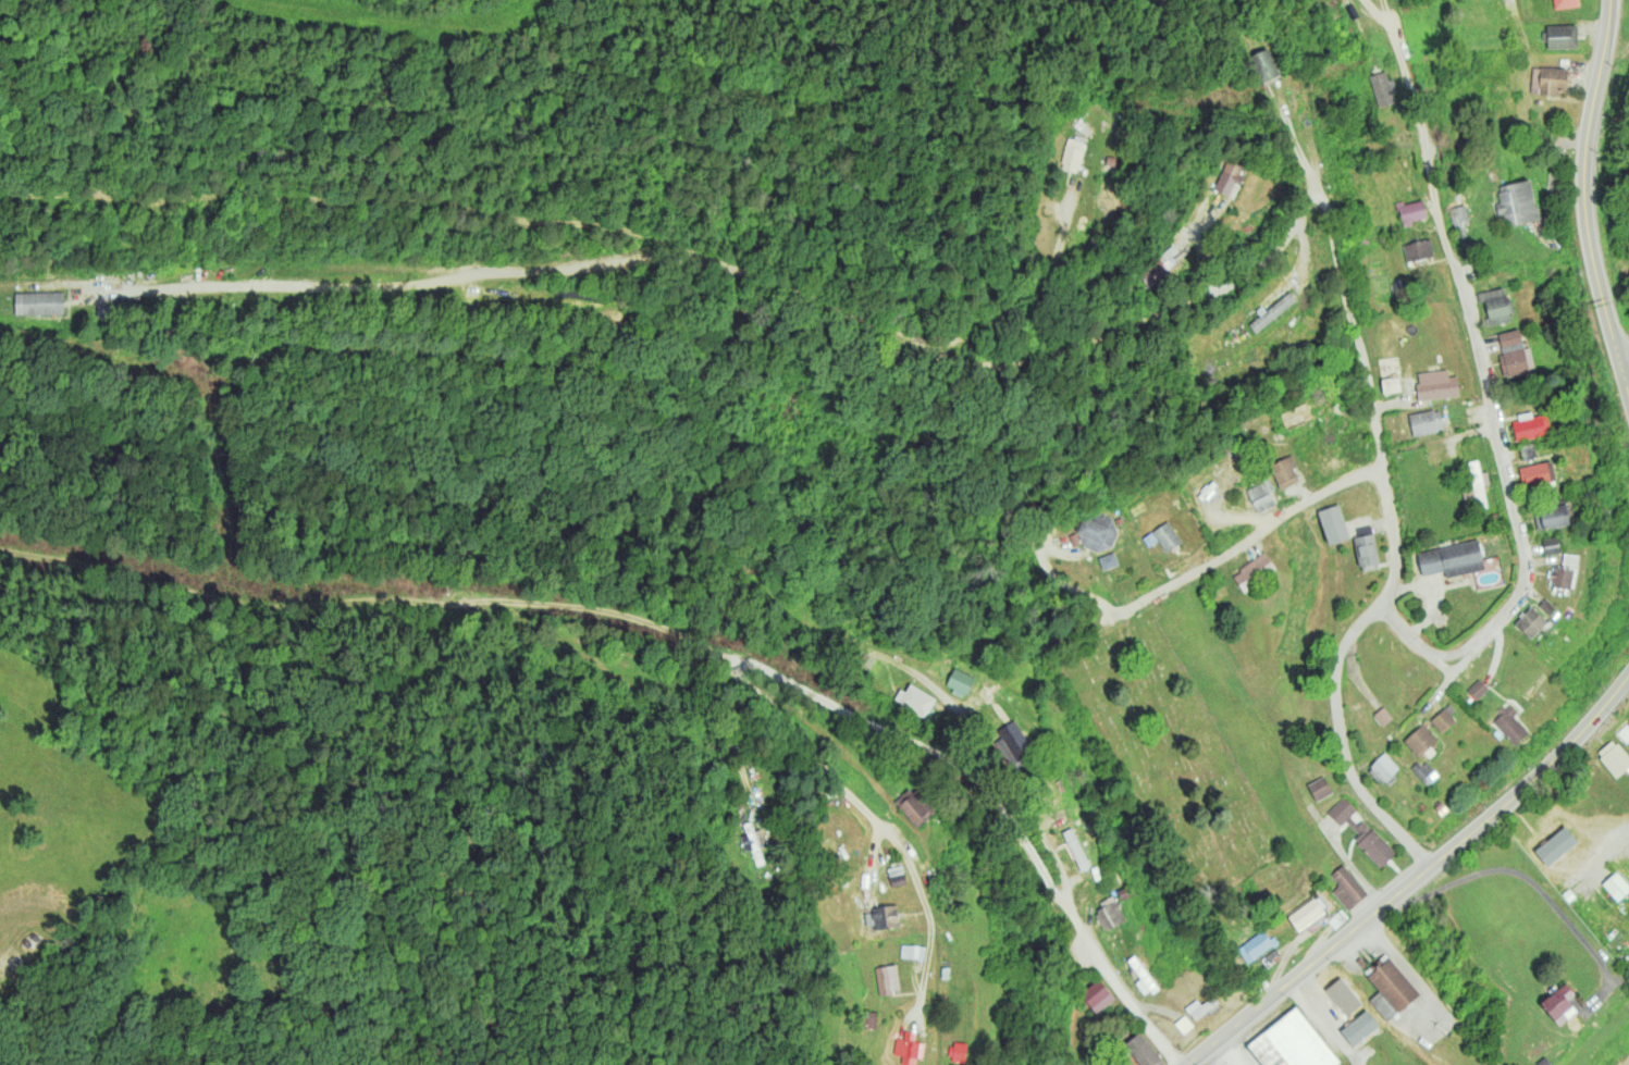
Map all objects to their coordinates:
building: (1564, 3)
road: (1382, 17)
building: (1560, 36)
building: (1263, 64)
building: (1548, 79)
building: (1382, 88)
building: (1072, 154)
building: (1230, 177)
road: (1589, 190)
building: (1516, 202)
building: (1410, 210)
building: (1459, 220)
building: (1417, 250)
road: (1047, 262)
building: (1158, 267)
building: (38, 302)
building: (1495, 305)
road: (991, 310)
building: (1272, 311)
building: (1514, 354)
road: (1627, 362)
building: (1390, 384)
building: (1435, 384)
road: (1491, 398)
building: (1424, 421)
building: (1530, 425)
building: (1527, 450)
building: (1284, 471)
building: (1537, 473)
building: (1476, 486)
building: (1259, 496)
road: (1389, 509)
building: (1554, 515)
building: (1332, 523)
building: (1097, 530)
building: (1162, 536)
road: (1244, 545)
building: (1550, 545)
building: (1366, 547)
building: (1451, 558)
building: (1108, 560)
building: (1252, 570)
building: (1560, 577)
road: (539, 606)
building: (1546, 606)
building: (1530, 621)
building: (865, 661)
building: (959, 681)
building: (1477, 688)
building: (914, 699)
building: (1382, 715)
building: (1444, 718)
building: (1509, 723)
building: (1419, 739)
building: (1012, 740)
building: (1614, 757)
park: (1178, 758)
building: (1383, 768)
building: (1424, 771)
building: (1319, 788)
building: (1046, 793)
building: (914, 805)
road: (1025, 805)
road: (879, 825)
building: (1361, 831)
building: (1072, 840)
building: (752, 841)
road: (1606, 849)
building: (1588, 850)
building: (1554, 857)
road: (1411, 874)
building: (896, 875)
building: (1616, 886)
building: (1346, 887)
building: (1109, 913)
building: (1305, 914)
building: (885, 916)
building: (1256, 945)
building: (1628, 959)
building: (1141, 976)
building: (887, 978)
building: (1390, 988)
building: (1097, 995)
building: (1346, 1001)
building: (1558, 1003)
building: (1200, 1006)
building: (1183, 1024)
building: (1355, 1035)
building: (1293, 1041)
building: (909, 1048)
building: (1143, 1050)
building: (959, 1051)

